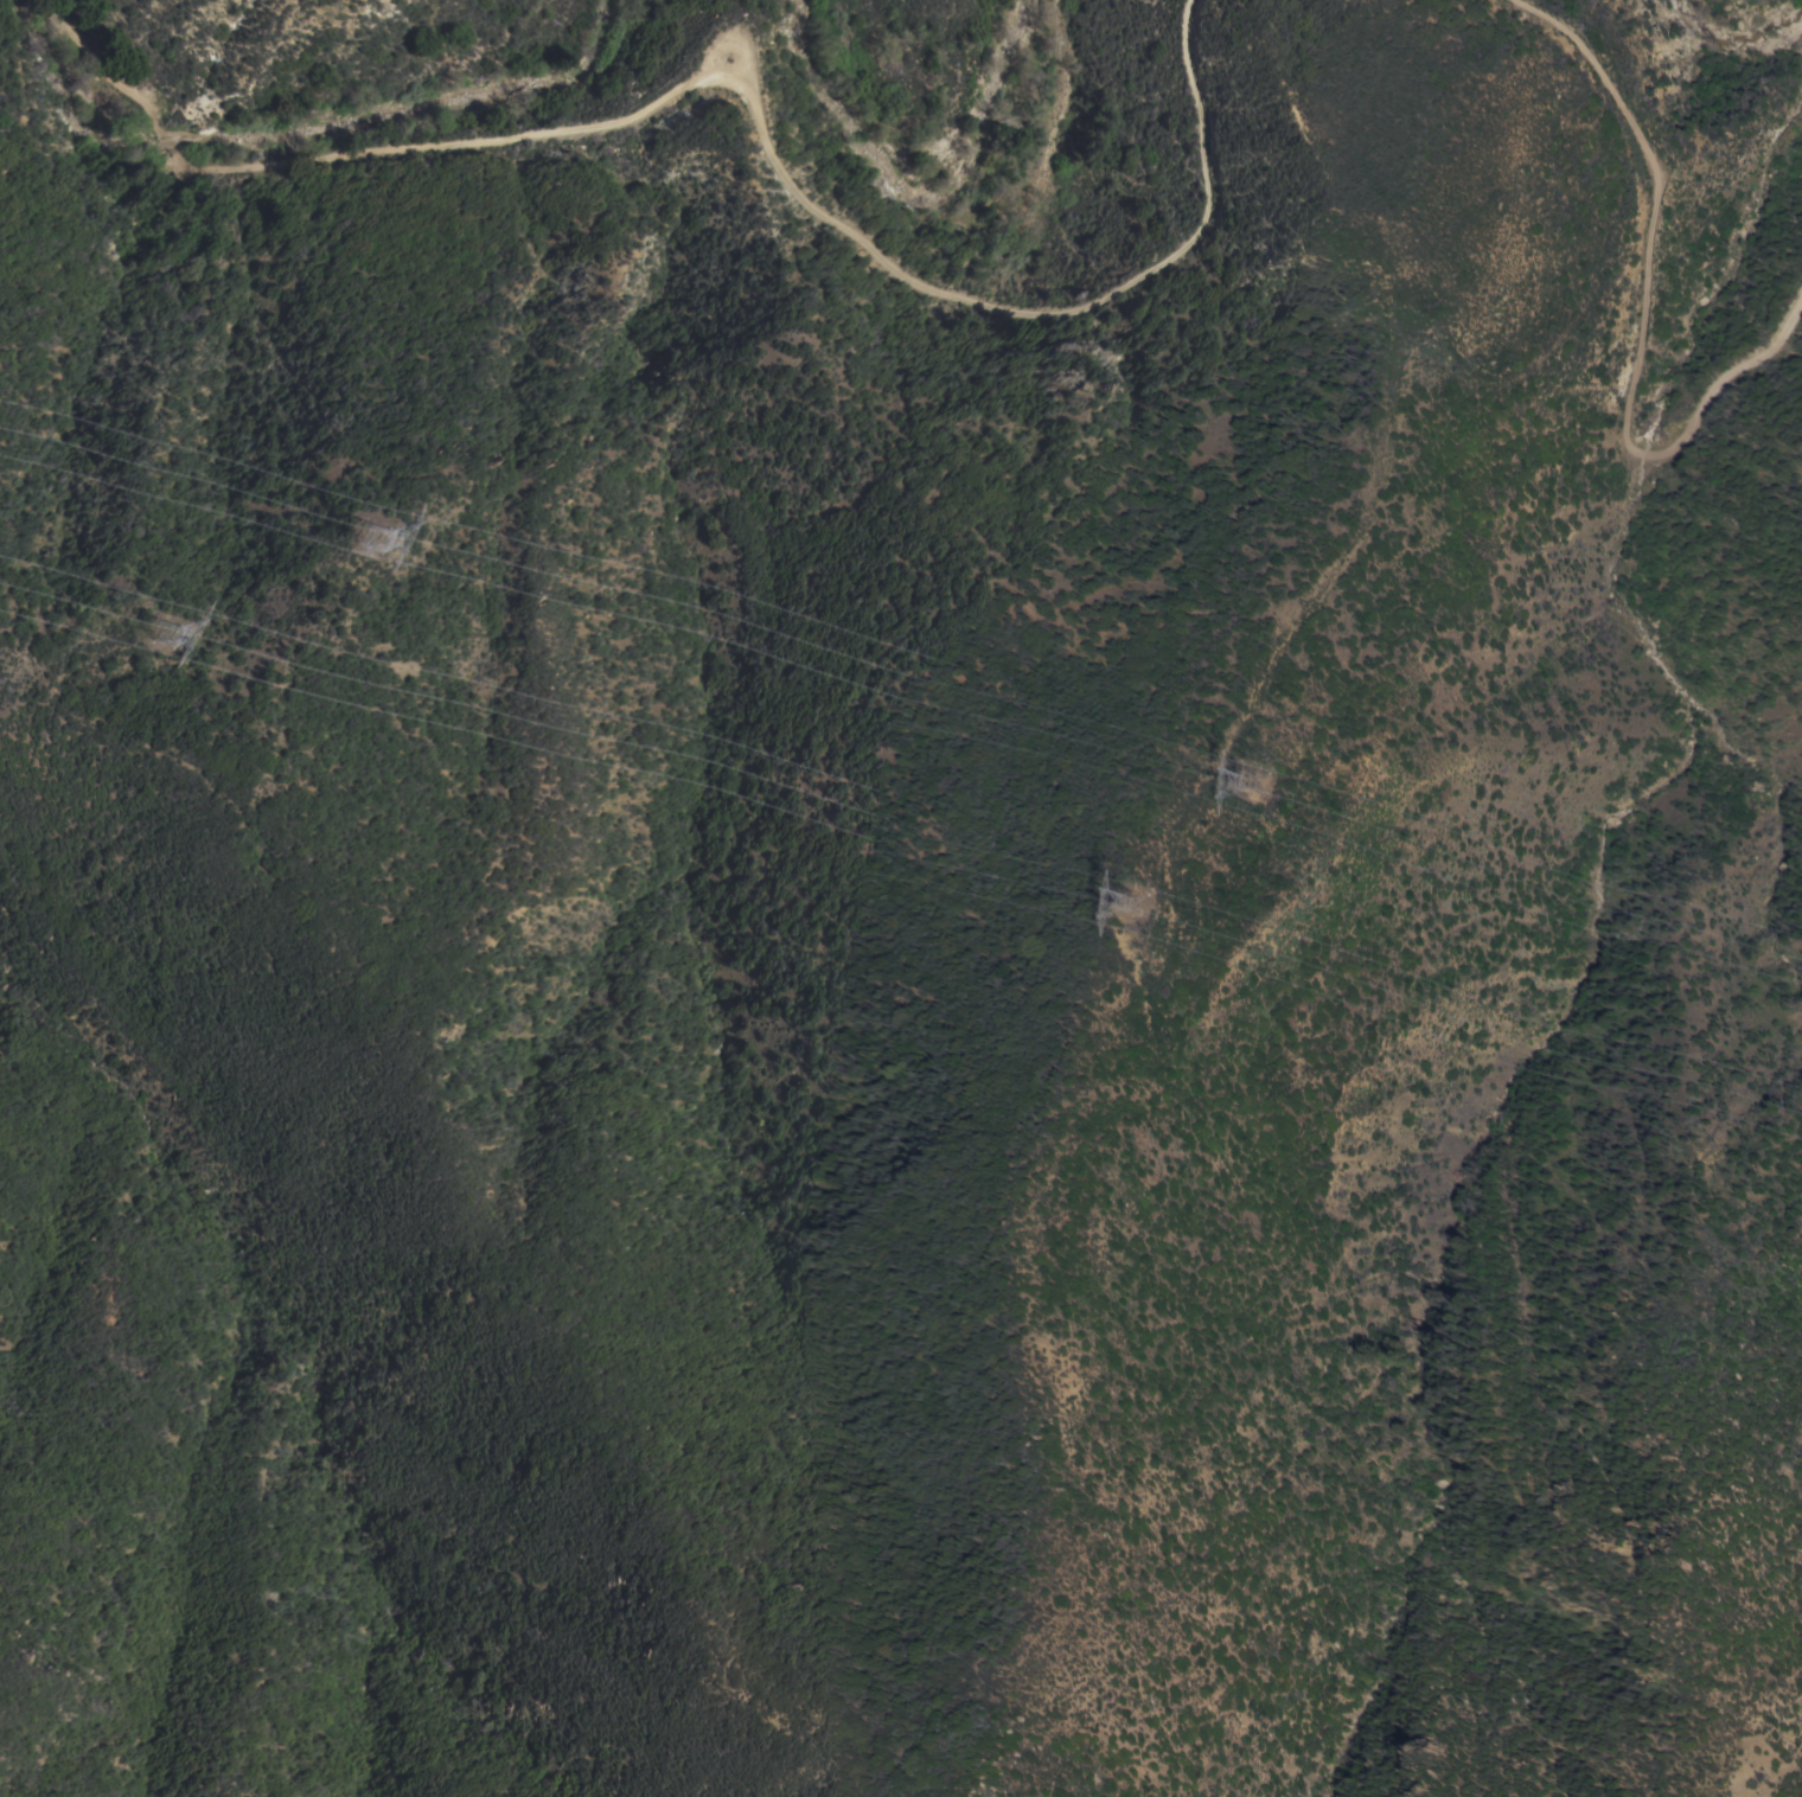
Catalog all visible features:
road: (758, 104)
road: (1644, 319)
power tower: (375, 532)
power tower: (164, 626)
power tower: (1258, 766)
power tower: (1138, 901)

